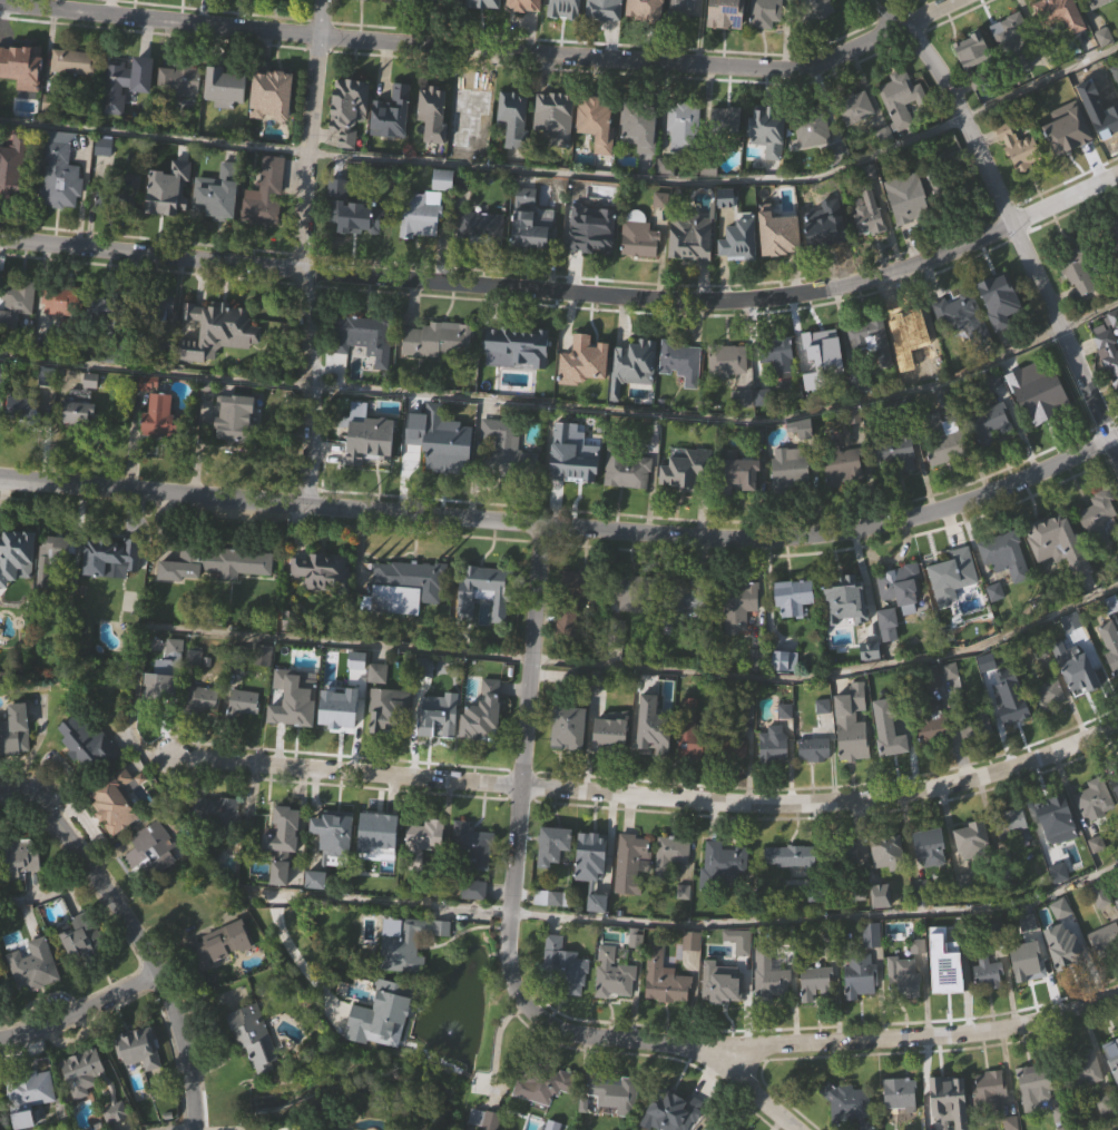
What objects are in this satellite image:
building: (56, 0)
building: (899, 0)
building: (87, 1)
building: (410, 1)
building: (447, 1)
building: (135, 3)
building: (482, 3)
building: (702, 3)
building: (925, 3)
building: (1098, 3)
building: (522, 4)
building: (194, 6)
building: (565, 7)
building: (241, 9)
building: (602, 9)
building: (681, 9)
building: (646, 10)
building: (814, 10)
building: (284, 11)
building: (764, 13)
building: (725, 14)
building: (1059, 16)
building: (364, 19)
building: (1101, 22)
building: (685, 30)
building: (815, 36)
building: (1013, 42)
building: (1058, 42)
building: (767, 45)
road: (488, 48)
building: (972, 57)
building: (17, 60)
building: (73, 61)
building: (1106, 69)
building: (1012, 71)
building: (177, 80)
building: (975, 81)
building: (122, 82)
building: (222, 89)
building: (77, 95)
building: (23, 98)
building: (902, 98)
building: (388, 99)
building: (470, 104)
building: (145, 107)
building: (255, 107)
building: (854, 107)
building: (346, 109)
building: (552, 111)
road: (981, 111)
building: (183, 112)
building: (1106, 114)
building: (431, 115)
building: (118, 118)
building: (226, 119)
building: (683, 119)
building: (511, 120)
building: (724, 121)
building: (595, 122)
building: (764, 124)
building: (638, 125)
building: (274, 127)
building: (812, 127)
building: (902, 131)
building: (1067, 135)
building: (473, 137)
building: (857, 141)
building: (351, 143)
building: (435, 145)
building: (393, 146)
building: (1105, 147)
building: (516, 150)
building: (557, 150)
building: (1020, 150)
building: (727, 153)
building: (599, 155)
building: (684, 158)
road: (391, 161)
building: (641, 161)
building: (11, 163)
building: (814, 163)
building: (769, 164)
building: (1068, 166)
building: (886, 167)
building: (57, 175)
building: (939, 175)
road: (813, 179)
building: (441, 180)
building: (1021, 180)
building: (838, 185)
building: (216, 194)
building: (264, 194)
building: (114, 195)
building: (164, 199)
building: (12, 200)
building: (62, 207)
building: (351, 207)
building: (911, 207)
building: (445, 213)
building: (867, 215)
building: (418, 217)
road: (1009, 218)
building: (134, 222)
building: (171, 222)
building: (528, 223)
building: (219, 226)
building: (267, 226)
building: (479, 226)
building: (910, 230)
building: (821, 234)
building: (638, 236)
building: (688, 237)
building: (589, 240)
building: (738, 242)
building: (354, 244)
building: (870, 245)
building: (422, 247)
road: (304, 253)
building: (482, 258)
building: (531, 262)
building: (595, 262)
building: (1076, 262)
building: (825, 263)
building: (1115, 263)
building: (782, 268)
building: (641, 269)
building: (693, 269)
building: (742, 274)
road: (570, 292)
building: (996, 297)
building: (53, 299)
building: (1079, 304)
building: (17, 306)
building: (153, 307)
building: (104, 308)
building: (958, 311)
road: (1089, 317)
building: (218, 321)
building: (911, 330)
building: (1001, 332)
building: (65, 333)
building: (18, 336)
building: (363, 336)
building: (106, 338)
building: (434, 340)
building: (517, 340)
building: (871, 340)
building: (167, 341)
building: (958, 345)
building: (822, 346)
building: (579, 352)
building: (1108, 353)
building: (776, 355)
building: (912, 356)
building: (634, 357)
building: (726, 361)
building: (219, 363)
building: (680, 363)
building: (365, 370)
building: (442, 371)
building: (909, 375)
building: (859, 377)
building: (824, 379)
building: (1109, 386)
building: (779, 389)
building: (586, 393)
building: (1038, 393)
building: (684, 394)
building: (729, 395)
building: (635, 397)
building: (2, 404)
road: (537, 407)
building: (18, 409)
building: (76, 413)
building: (94, 413)
building: (228, 414)
building: (158, 417)
building: (990, 422)
building: (812, 423)
building: (1039, 424)
building: (801, 429)
building: (744, 431)
building: (367, 438)
building: (943, 439)
building: (23, 440)
building: (81, 444)
building: (442, 445)
building: (163, 449)
building: (506, 449)
building: (893, 449)
building: (237, 450)
building: (572, 453)
building: (992, 454)
building: (624, 465)
building: (842, 465)
building: (790, 466)
building: (686, 468)
building: (371, 471)
building: (737, 472)
building: (510, 479)
building: (950, 480)
building: (895, 485)
building: (575, 487)
building: (791, 500)
building: (844, 500)
building: (688, 502)
building: (629, 503)
building: (739, 505)
building: (1098, 515)
road: (568, 530)
building: (1050, 541)
building: (57, 547)
building: (1099, 550)
building: (14, 553)
building: (1004, 553)
building: (108, 554)
building: (213, 562)
building: (323, 571)
building: (951, 574)
building: (1060, 574)
building: (57, 583)
building: (403, 584)
building: (1007, 588)
building: (18, 589)
building: (110, 589)
building: (484, 590)
building: (631, 591)
building: (214, 595)
building: (846, 595)
building: (793, 596)
building: (894, 596)
building: (680, 601)
building: (324, 602)
building: (572, 602)
building: (737, 605)
building: (953, 608)
building: (579, 617)
building: (408, 619)
building: (902, 620)
building: (486, 623)
building: (795, 629)
building: (846, 631)
road: (252, 632)
building: (615, 632)
building: (632, 632)
building: (1053, 636)
building: (686, 637)
building: (741, 638)
building: (1110, 643)
building: (569, 655)
building: (890, 657)
building: (236, 659)
building: (1081, 669)
building: (1062, 670)
road: (831, 674)
building: (1111, 674)
building: (177, 680)
building: (578, 680)
building: (871, 682)
building: (157, 685)
building: (757, 692)
building: (786, 692)
building: (1046, 695)
building: (199, 699)
building: (242, 701)
building: (1083, 702)
building: (952, 704)
building: (1009, 704)
building: (388, 708)
building: (294, 709)
building: (341, 714)
building: (164, 718)
building: (478, 718)
building: (435, 720)
building: (975, 720)
building: (932, 725)
building: (1050, 726)
building: (13, 729)
building: (567, 729)
building: (205, 730)
building: (692, 730)
building: (608, 736)
building: (246, 737)
building: (824, 738)
building: (390, 740)
building: (1014, 740)
building: (893, 741)
building: (86, 745)
building: (654, 745)
building: (772, 745)
building: (730, 746)
building: (344, 747)
building: (440, 747)
building: (483, 747)
building: (812, 747)
building: (853, 747)
road: (32, 748)
building: (983, 754)
building: (571, 759)
building: (933, 759)
building: (890, 761)
building: (16, 763)
building: (614, 764)
building: (693, 774)
building: (775, 776)
building: (89, 778)
building: (736, 778)
road: (517, 779)
building: (1114, 780)
building: (815, 782)
road: (13, 797)
road: (653, 797)
building: (1094, 797)
building: (112, 800)
building: (214, 812)
building: (1115, 813)
building: (1010, 822)
building: (332, 824)
building: (277, 829)
building: (1057, 829)
building: (375, 831)
building: (117, 834)
building: (424, 834)
building: (1096, 834)
building: (973, 838)
building: (928, 842)
building: (215, 843)
building: (591, 843)
building: (471, 845)
building: (551, 845)
building: (149, 848)
building: (845, 852)
building: (887, 852)
building: (668, 854)
building: (18, 855)
building: (792, 855)
building: (1019, 856)
building: (336, 863)
building: (629, 863)
building: (380, 864)
building: (720, 865)
building: (426, 869)
building: (973, 872)
building: (284, 874)
building: (556, 877)
building: (932, 880)
building: (0, 881)
building: (153, 883)
building: (675, 883)
building: (24, 887)
building: (472, 888)
building: (594, 888)
building: (792, 888)
road: (46, 892)
building: (922, 892)
building: (634, 895)
building: (725, 895)
building: (550, 897)
road: (373, 900)
building: (317, 912)
road: (815, 916)
building: (475, 922)
building: (686, 924)
building: (558, 931)
building: (599, 935)
building: (957, 936)
building: (75, 939)
building: (1105, 940)
building: (741, 942)
building: (408, 944)
building: (217, 945)
road: (294, 947)
building: (1066, 947)
road: (141, 949)
building: (1024, 962)
building: (33, 966)
building: (562, 967)
building: (874, 967)
building: (637, 970)
building: (1106, 972)
building: (693, 973)
building: (741, 973)
building: (988, 973)
building: (409, 974)
building: (611, 974)
building: (859, 976)
building: (219, 977)
building: (768, 977)
building: (903, 977)
building: (1065, 977)
building: (664, 979)
building: (947, 979)
building: (814, 982)
building: (720, 987)
building: (1028, 993)
building: (568, 996)
building: (35, 998)
building: (949, 1001)
building: (989, 1004)
building: (615, 1005)
building: (861, 1009)
building: (904, 1009)
building: (772, 1010)
building: (667, 1011)
building: (723, 1014)
building: (816, 1015)
road: (81, 1018)
building: (1, 1021)
building: (252, 1036)
building: (136, 1048)
building: (384, 1048)
road: (497, 1048)
road: (827, 1049)
building: (1111, 1049)
building: (256, 1069)
building: (1081, 1070)
building: (141, 1080)
building: (1034, 1080)
building: (541, 1082)
building: (89, 1083)
building: (942, 1087)
building: (1112, 1088)
building: (988, 1090)
building: (612, 1091)
building: (899, 1092)
road: (754, 1094)
building: (26, 1097)
building: (1088, 1099)
building: (85, 1103)
building: (847, 1106)
building: (1059, 1108)
building: (156, 1109)
building: (669, 1109)
building: (1039, 1113)
building: (543, 1116)
building: (991, 1117)
building: (33, 1118)
building: (482, 1119)
building: (950, 1119)
building: (614, 1120)
building: (901, 1120)
building: (0, 1123)
building: (720, 1124)
road: (1106, 1124)
road: (183, 1129)

